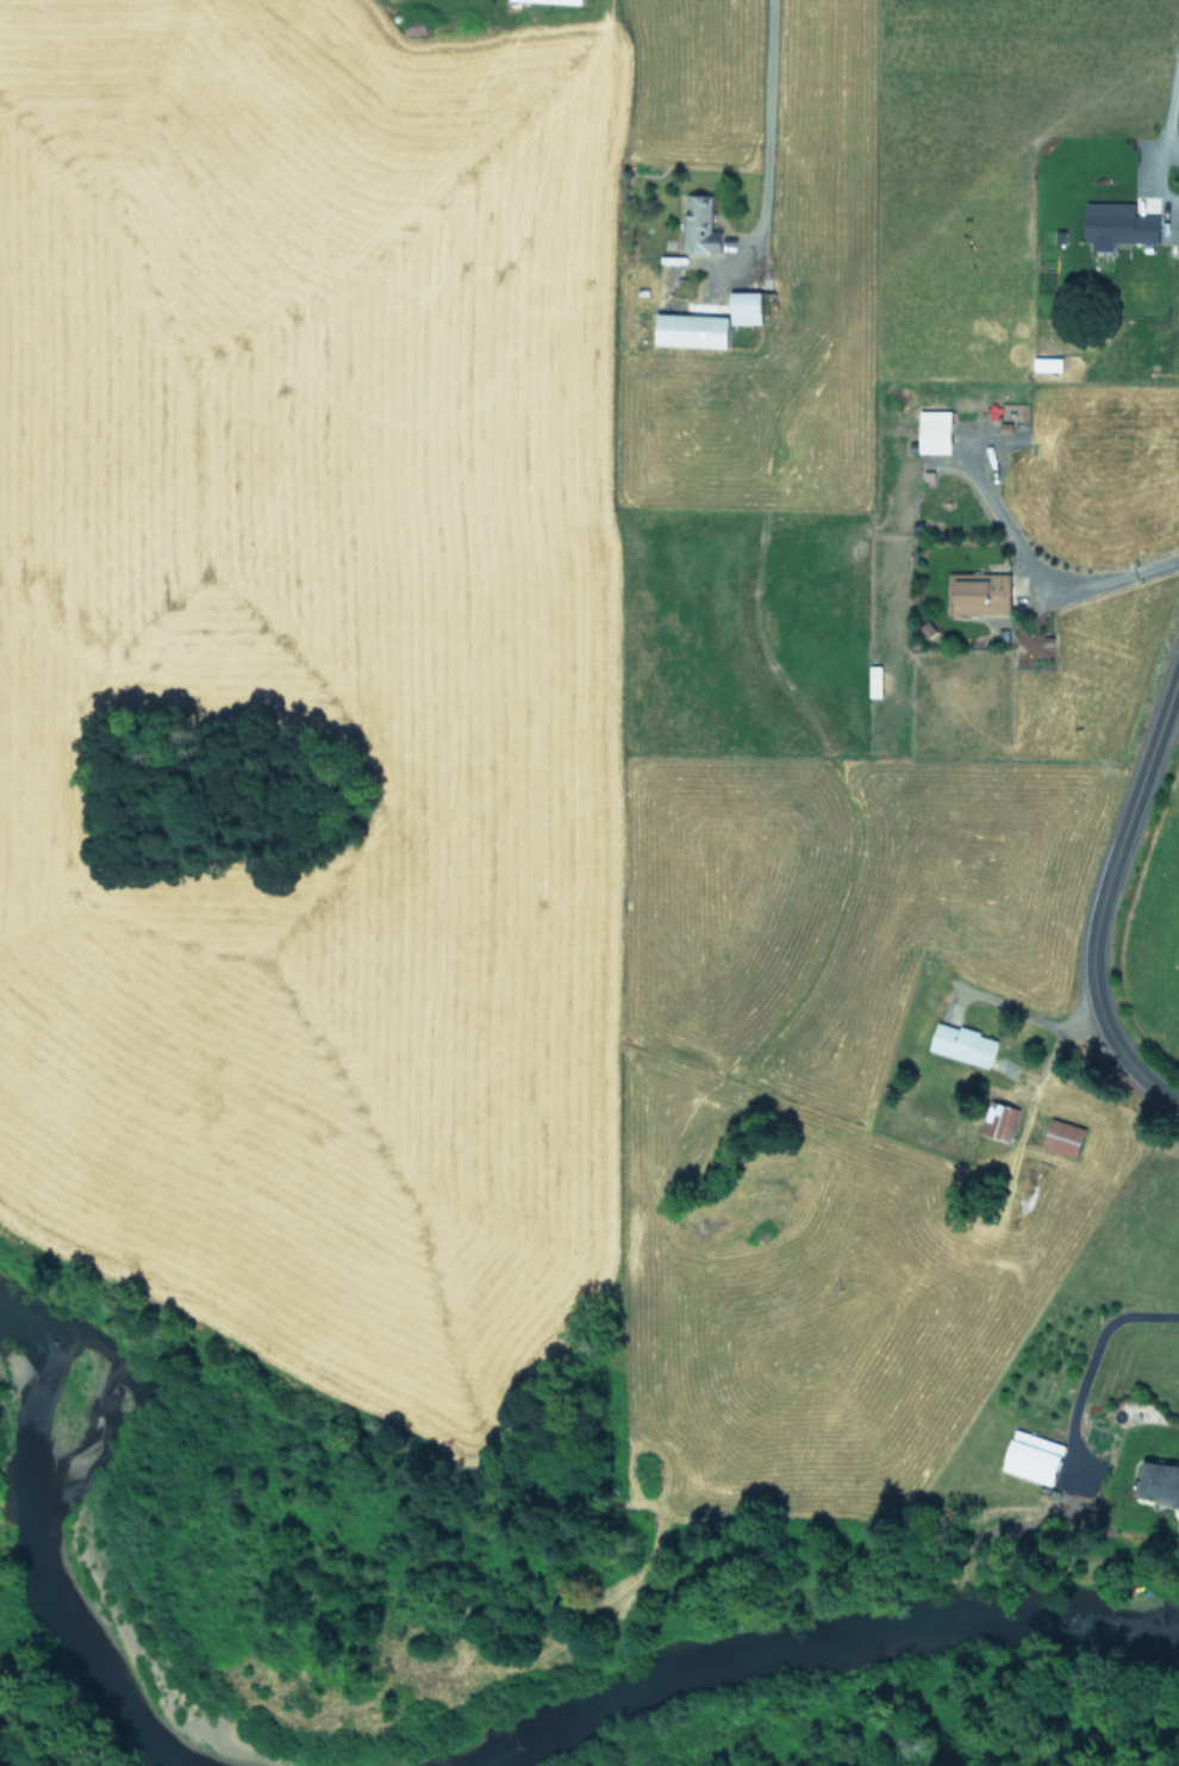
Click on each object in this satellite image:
building: (547, 0)
road: (1168, 120)
road: (763, 148)
building: (1113, 225)
building: (697, 226)
building: (741, 307)
building: (686, 330)
building: (1044, 362)
building: (930, 431)
road: (1100, 578)
building: (977, 592)
crop: (594, 695)
road: (1096, 879)
crop: (1168, 938)
road: (1027, 1016)
building: (959, 1043)
building: (997, 1119)
building: (1060, 1137)
road: (1097, 1348)
building: (1028, 1456)
building: (1158, 1480)

